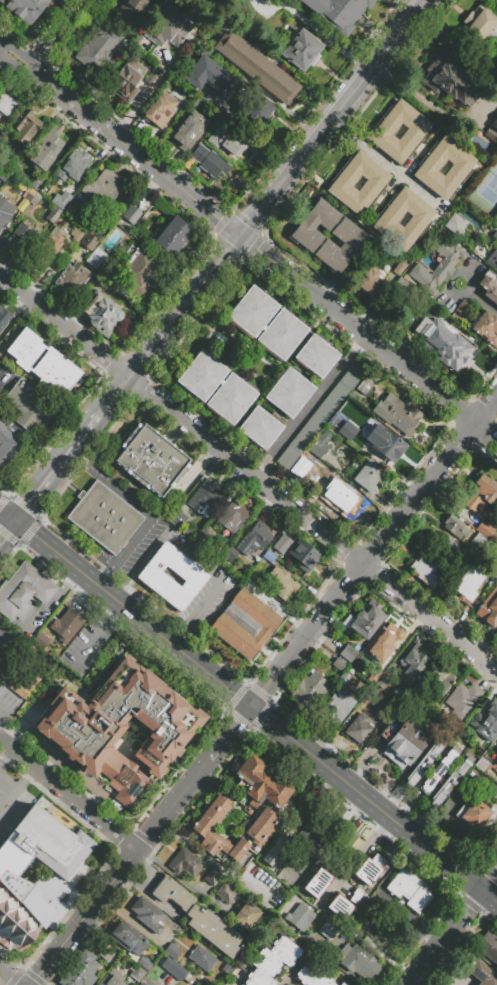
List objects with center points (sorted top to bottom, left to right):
building: (65, 0)
building: (138, 5)
building: (24, 9)
building: (337, 12)
building: (169, 27)
building: (481, 28)
road: (58, 35)
road: (322, 35)
building: (99, 46)
road: (1, 49)
building: (301, 50)
road: (1, 51)
building: (237, 52)
road: (19, 55)
road: (13, 63)
building: (209, 76)
building: (126, 79)
building: (449, 79)
building: (275, 82)
road: (150, 87)
building: (6, 104)
building: (255, 105)
building: (159, 109)
road: (333, 117)
building: (494, 123)
building: (25, 126)
building: (383, 131)
building: (187, 132)
building: (490, 133)
building: (226, 137)
building: (46, 148)
road: (136, 152)
road: (383, 160)
building: (209, 162)
building: (9, 163)
building: (73, 165)
building: (428, 167)
building: (3, 174)
building: (36, 183)
building: (373, 183)
building: (103, 186)
park: (489, 187)
building: (32, 197)
building: (61, 199)
building: (5, 211)
building: (131, 214)
building: (53, 215)
building: (419, 219)
building: (453, 223)
building: (76, 232)
building: (21, 235)
building: (172, 235)
traffic signals: (241, 235)
building: (494, 235)
building: (307, 238)
building: (88, 241)
building: (46, 247)
building: (480, 250)
building: (494, 256)
building: (95, 258)
building: (399, 267)
building: (437, 267)
building: (140, 272)
road: (463, 275)
building: (72, 278)
building: (372, 278)
building: (400, 285)
building: (489, 290)
road: (481, 300)
road: (184, 304)
building: (384, 308)
building: (102, 315)
building: (4, 320)
building: (248, 321)
road: (64, 323)
building: (485, 327)
road: (369, 336)
building: (445, 343)
building: (316, 355)
building: (41, 362)
road: (2, 373)
parking lot: (6, 381)
building: (198, 386)
building: (365, 389)
building: (288, 392)
road: (112, 395)
road: (310, 405)
building: (30, 406)
building: (397, 414)
building: (319, 416)
building: (260, 426)
building: (350, 432)
road: (28, 438)
building: (385, 443)
building: (320, 444)
building: (8, 448)
road: (73, 458)
building: (150, 459)
building: (305, 464)
road: (53, 466)
road: (192, 472)
building: (367, 475)
parking lot: (121, 489)
building: (482, 494)
building: (209, 495)
building: (340, 498)
road: (6, 512)
road: (142, 512)
building: (104, 517)
building: (233, 517)
traffic signals: (12, 518)
building: (179, 520)
road: (312, 522)
road: (5, 525)
road: (390, 526)
building: (455, 526)
building: (485, 528)
building: (254, 538)
building: (207, 540)
building: (479, 540)
building: (281, 543)
building: (444, 545)
building: (303, 554)
building: (230, 556)
building: (268, 556)
road: (190, 558)
building: (496, 561)
building: (424, 568)
building: (451, 573)
road: (69, 574)
building: (151, 576)
road: (102, 579)
building: (33, 583)
building: (281, 583)
building: (468, 585)
road: (79, 591)
road: (117, 592)
building: (13, 601)
road: (43, 607)
building: (489, 608)
road: (115, 611)
road: (130, 612)
building: (367, 619)
building: (244, 623)
road: (11, 624)
building: (66, 625)
building: (387, 637)
road: (177, 639)
building: (41, 643)
parking lot: (9, 644)
road: (90, 644)
parking lot: (93, 648)
road: (6, 653)
building: (348, 653)
building: (414, 661)
building: (338, 664)
building: (439, 677)
building: (22, 679)
building: (342, 680)
road: (267, 683)
building: (309, 691)
building: (463, 700)
traffic signals: (251, 706)
road: (5, 707)
parking lot: (8, 707)
building: (336, 707)
building: (486, 722)
road: (27, 725)
building: (359, 728)
building: (119, 730)
road: (230, 732)
building: (402, 742)
building: (495, 743)
road: (6, 754)
road: (1, 760)
building: (496, 760)
building: (423, 763)
building: (482, 765)
building: (496, 769)
building: (438, 770)
road: (31, 774)
road: (82, 779)
building: (451, 781)
building: (262, 783)
road: (187, 787)
road: (68, 794)
road: (13, 795)
parking lot: (13, 799)
road: (365, 799)
building: (477, 815)
building: (264, 824)
building: (318, 829)
road: (150, 831)
building: (346, 850)
building: (275, 852)
road: (212, 860)
building: (185, 863)
road: (145, 867)
building: (316, 872)
road: (173, 877)
building: (212, 877)
building: (361, 878)
road: (488, 880)
building: (13, 881)
building: (409, 889)
building: (225, 893)
road: (148, 896)
road: (489, 897)
building: (338, 906)
building: (148, 914)
building: (246, 915)
road: (83, 916)
road: (410, 916)
building: (300, 917)
building: (199, 918)
road: (129, 921)
building: (328, 930)
building: (384, 936)
road: (86, 938)
building: (128, 938)
road: (445, 938)
road: (107, 939)
building: (488, 946)
building: (105, 951)
building: (171, 951)
building: (201, 958)
road: (386, 958)
building: (272, 960)
road: (330, 961)
building: (358, 961)
building: (144, 963)
building: (80, 970)
road: (448, 970)
building: (178, 972)
building: (137, 973)
building: (311, 973)
building: (482, 974)
road: (7, 978)
building: (113, 978)
building: (141, 983)
building: (137, 984)
building: (342, 984)

